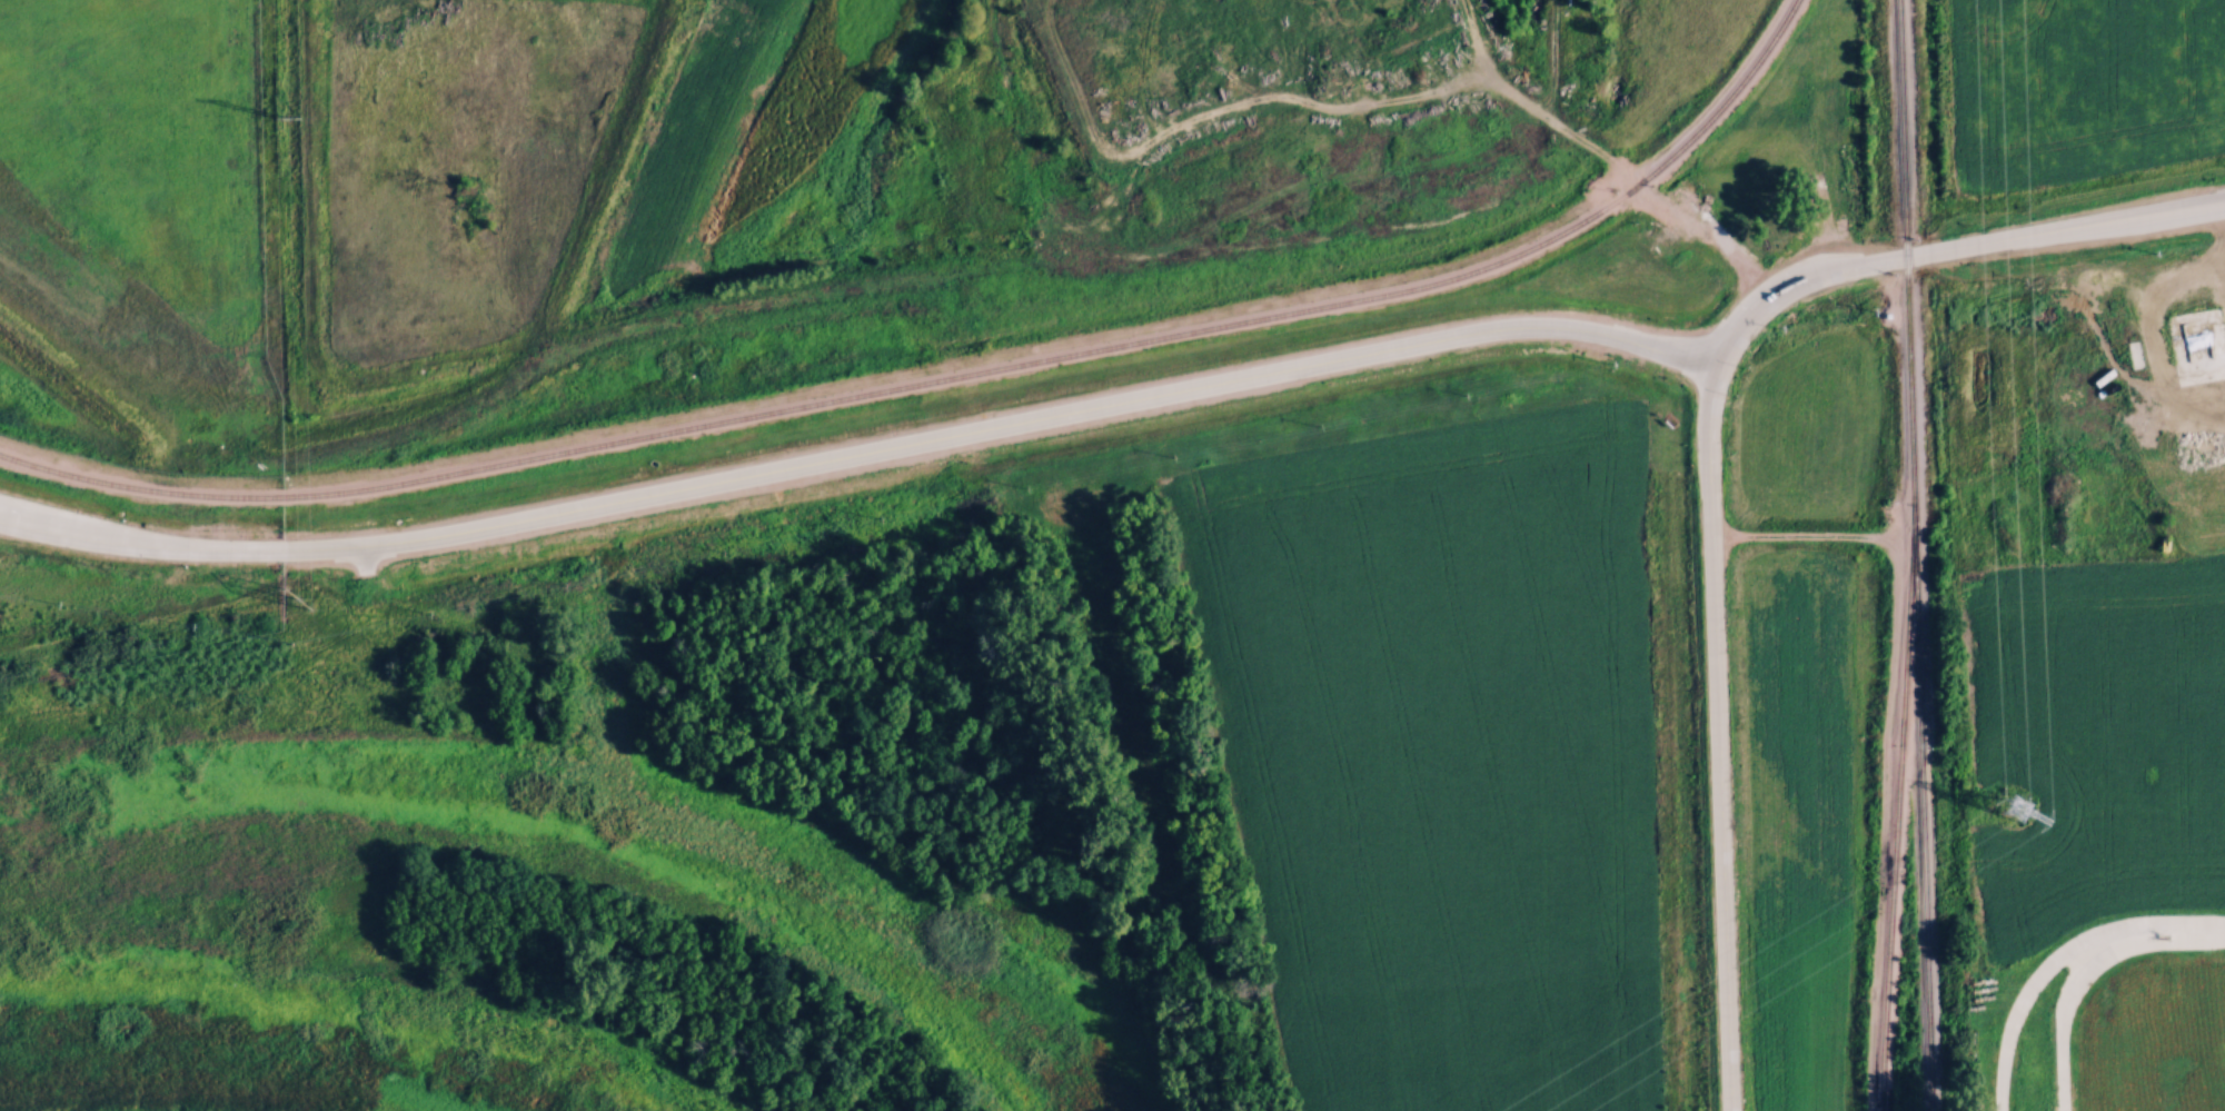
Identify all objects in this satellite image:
building: (1718, 42)
power tower: (299, 113)
building: (1749, 167)
road: (1620, 170)
building: (1746, 197)
road: (2181, 207)
road: (1825, 220)
road: (1908, 254)
railway: (1908, 265)
road: (2119, 336)
building: (2195, 339)
railway: (950, 376)
road: (1011, 423)
road: (148, 540)
power tower: (308, 596)
road: (1714, 736)
power tower: (2020, 804)
railway: (1893, 821)
railway: (1920, 821)
road: (2176, 933)
road: (2028, 995)
road: (2063, 1010)

